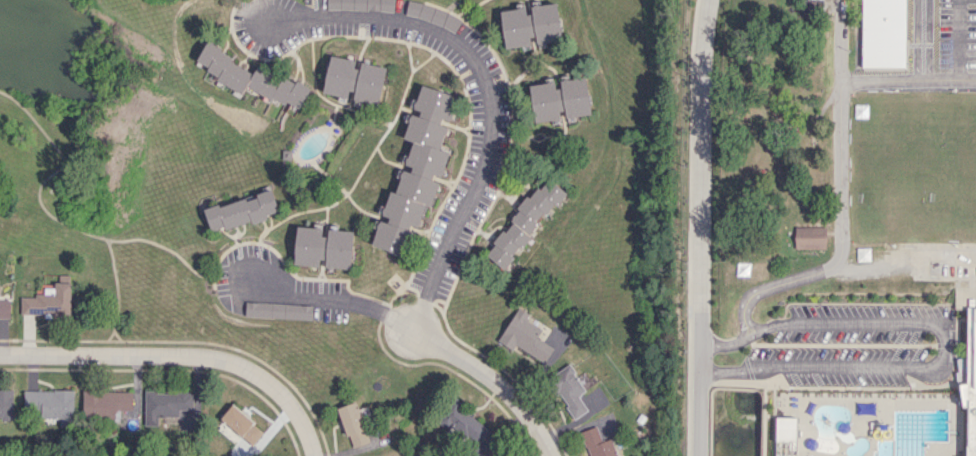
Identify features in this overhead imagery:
building: (360, 4)
building: (432, 15)
building: (530, 25)
building: (883, 33)
road: (921, 41)
building: (251, 77)
building: (353, 79)
road: (908, 82)
road: (488, 84)
building: (559, 99)
building: (434, 103)
building: (425, 145)
road: (841, 198)
building: (410, 199)
building: (241, 211)
building: (523, 222)
road: (701, 227)
building: (389, 237)
building: (809, 237)
building: (322, 247)
road: (902, 258)
building: (48, 301)
building: (4, 307)
building: (277, 310)
road: (421, 331)
road: (945, 335)
building: (524, 336)
road: (727, 344)
road: (181, 358)
road: (735, 372)
building: (969, 384)
building: (568, 389)
building: (105, 402)
building: (6, 404)
building: (50, 404)
building: (166, 405)
building: (241, 424)
building: (353, 424)
building: (785, 428)
building: (470, 430)
building: (597, 443)

